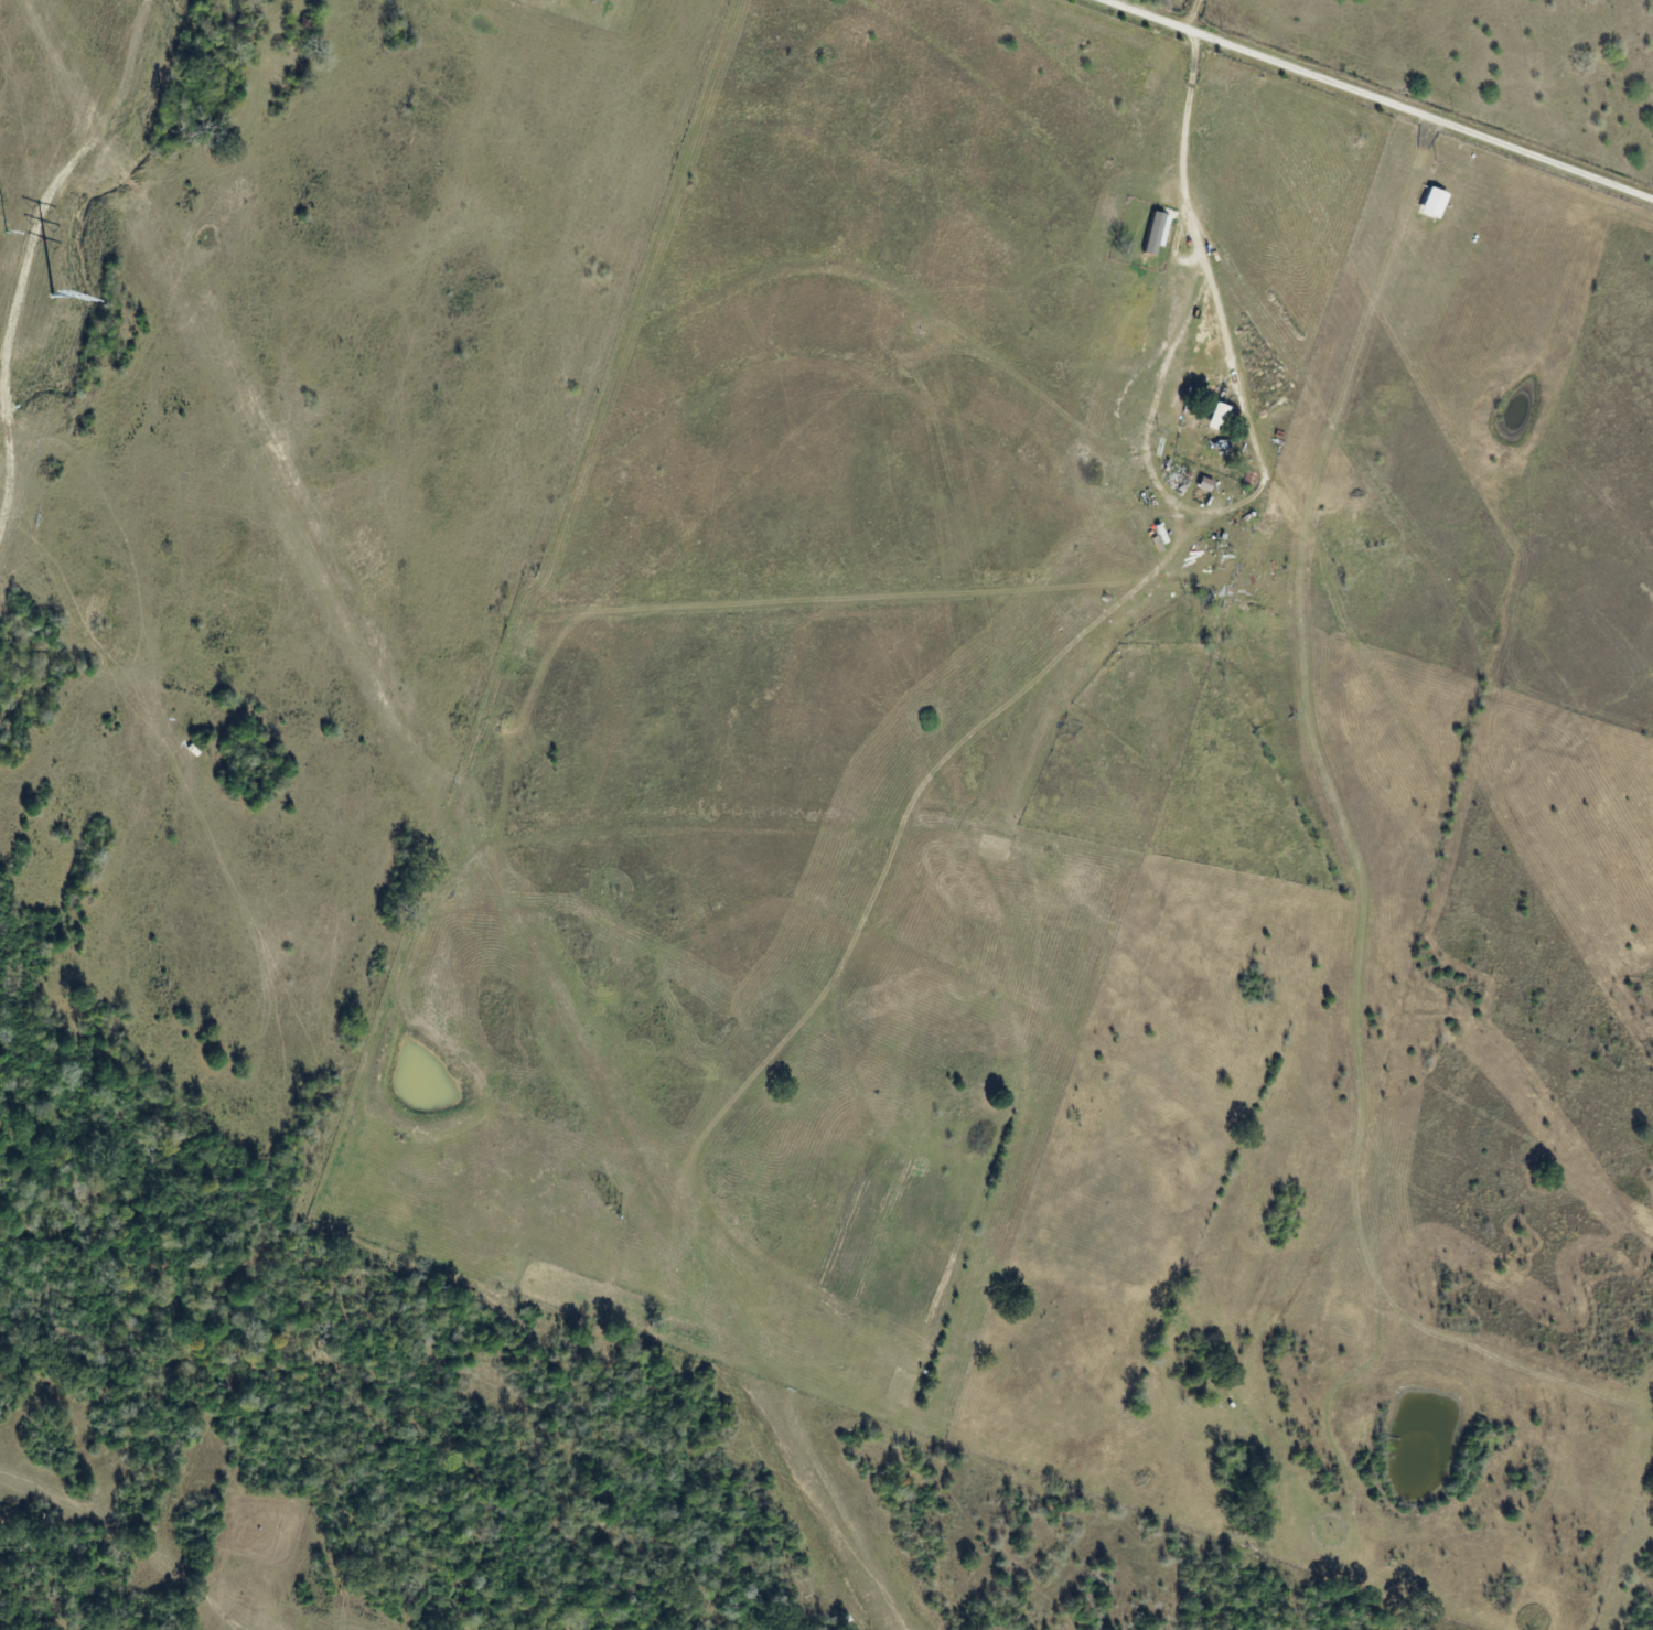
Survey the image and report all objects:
road: (1368, 104)
building: (1431, 204)
power tower: (7, 232)
building: (1155, 234)

